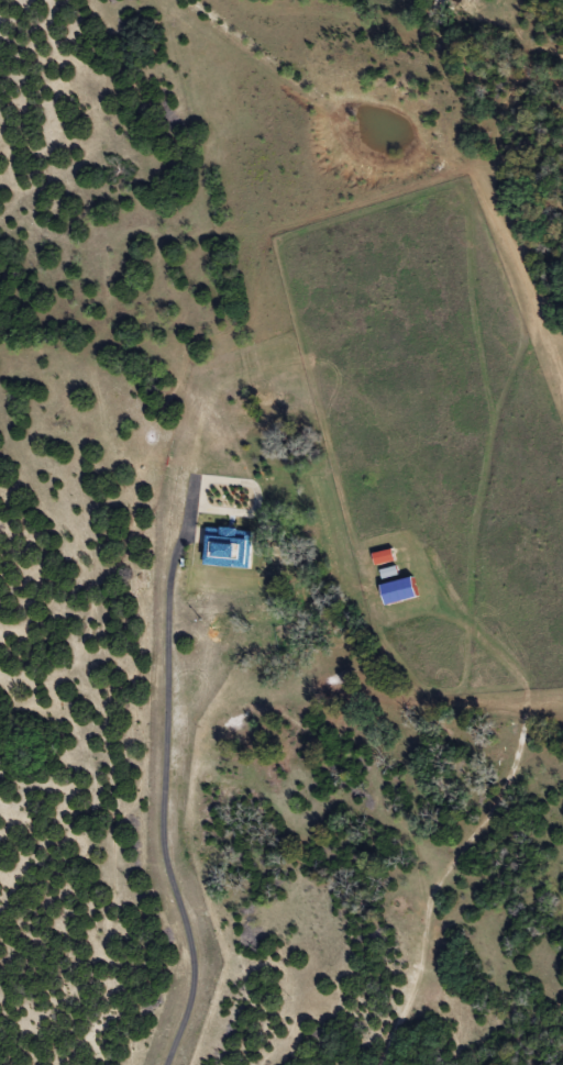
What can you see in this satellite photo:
building: (229, 548)
building: (399, 592)

